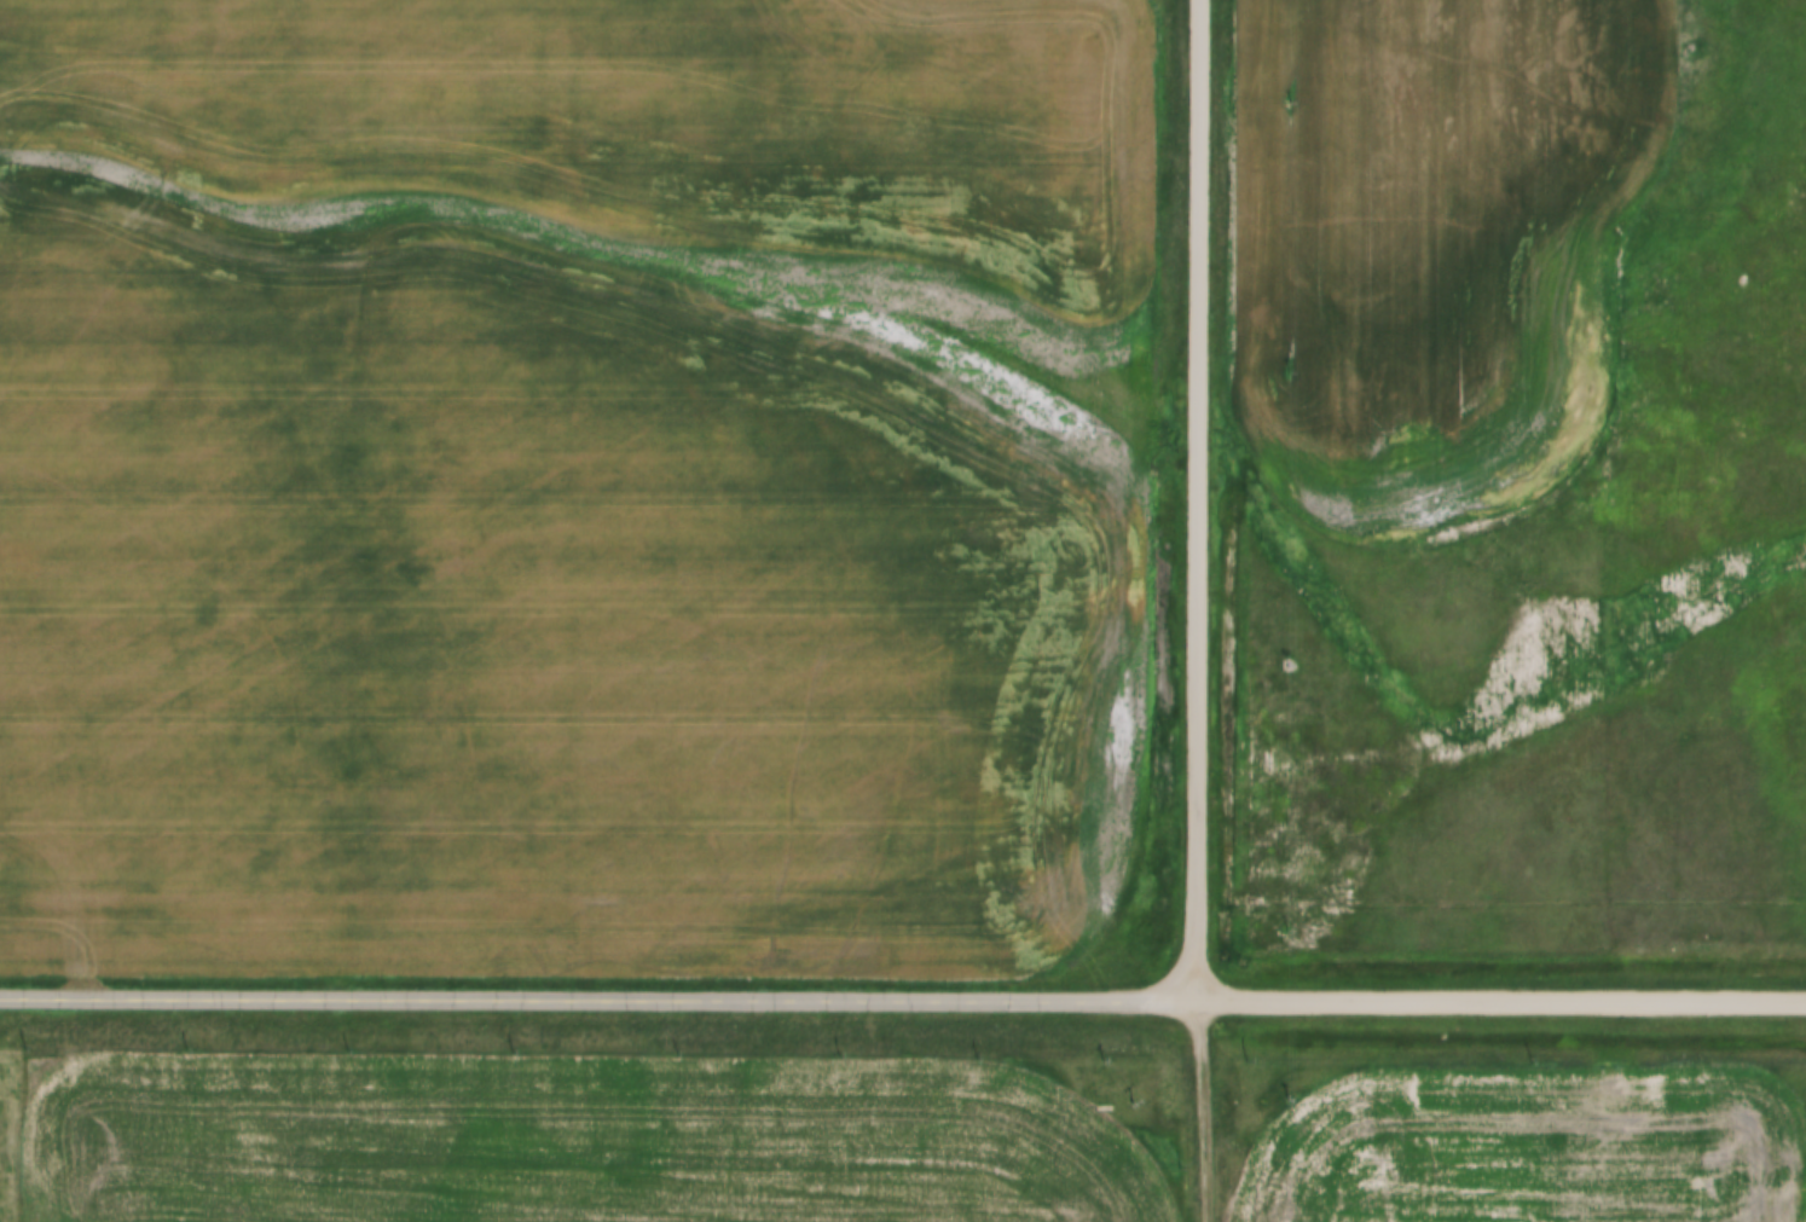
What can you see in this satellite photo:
road: (1199, 503)
road: (600, 1001)
road: (1501, 1001)
road: (1200, 1113)

